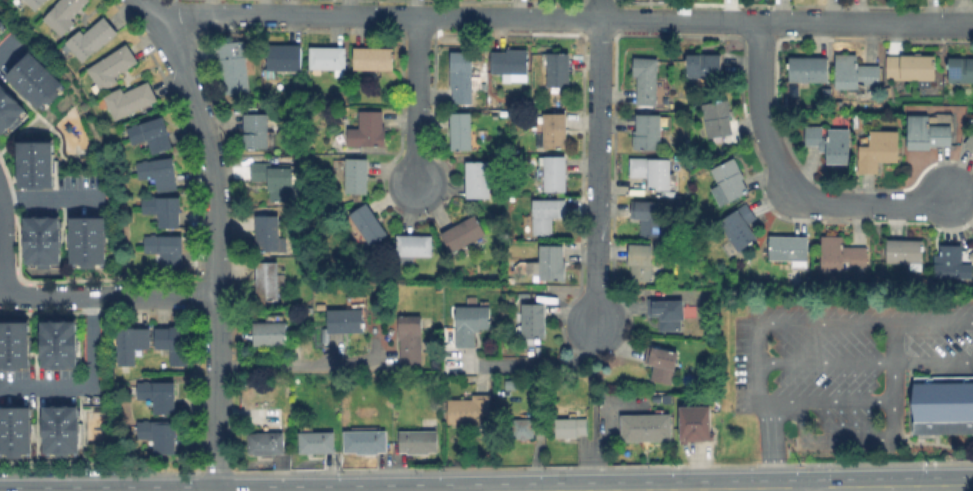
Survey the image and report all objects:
building: (35, 3)
building: (64, 14)
road: (566, 18)
building: (1, 24)
building: (92, 38)
road: (10, 52)
building: (285, 57)
building: (328, 58)
building: (373, 58)
building: (509, 61)
building: (704, 65)
building: (112, 66)
building: (234, 66)
building: (910, 66)
building: (808, 69)
building: (960, 69)
building: (558, 70)
rooftop solar panel: (954, 70)
building: (855, 72)
building: (461, 77)
building: (646, 79)
building: (33, 80)
building: (130, 99)
road: (415, 100)
building: (837, 103)
building: (8, 110)
building: (717, 118)
building: (649, 128)
building: (256, 130)
building: (368, 130)
building: (555, 130)
building: (461, 131)
building: (927, 132)
building: (148, 133)
building: (970, 141)
building: (829, 142)
building: (878, 150)
road: (594, 162)
building: (34, 164)
building: (652, 171)
building: (156, 172)
building: (555, 173)
building: (357, 175)
building: (478, 179)
building: (730, 179)
building: (274, 180)
road: (792, 182)
road: (52, 198)
building: (160, 209)
building: (547, 214)
building: (646, 214)
building: (369, 223)
building: (738, 226)
building: (267, 233)
building: (463, 233)
road: (216, 236)
building: (40, 239)
building: (85, 240)
road: (4, 245)
building: (414, 245)
building: (162, 248)
building: (789, 249)
building: (905, 252)
building: (840, 254)
building: (551, 261)
building: (641, 261)
building: (953, 262)
building: (267, 280)
road: (107, 297)
building: (319, 305)
building: (667, 312)
building: (347, 318)
building: (535, 318)
road: (867, 320)
building: (471, 323)
building: (270, 333)
building: (410, 338)
building: (128, 343)
building: (170, 343)
building: (13, 344)
building: (58, 344)
road: (299, 364)
building: (662, 364)
road: (826, 364)
road: (933, 364)
road: (538, 365)
road: (92, 388)
building: (156, 394)
road: (826, 399)
building: (943, 404)
road: (762, 407)
road: (597, 408)
building: (468, 412)
building: (695, 423)
building: (570, 427)
building: (523, 428)
building: (14, 429)
building: (58, 429)
building: (646, 430)
building: (156, 435)
road: (883, 436)
building: (365, 441)
building: (419, 441)
building: (266, 442)
building: (317, 442)
road: (823, 477)
road: (972, 487)
road: (893, 489)
road: (790, 490)
road: (813, 490)

